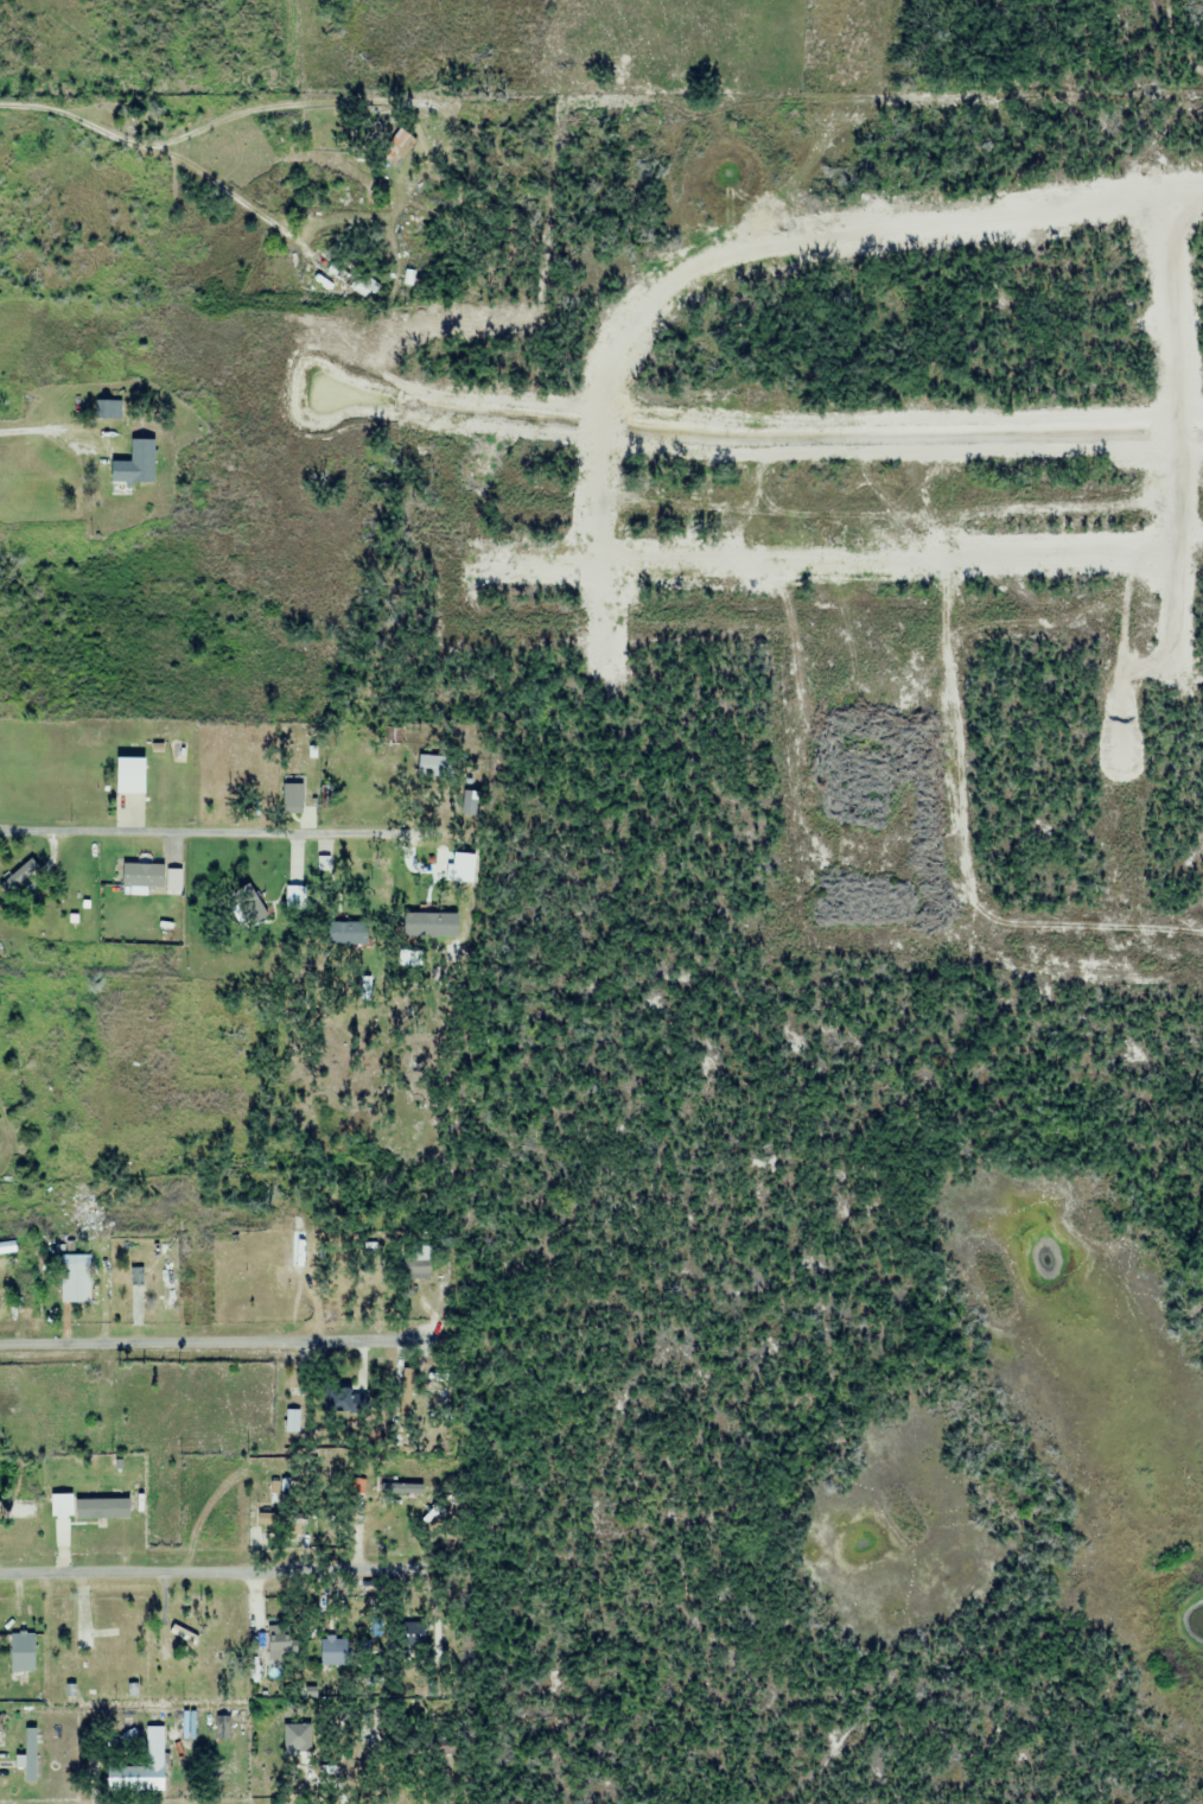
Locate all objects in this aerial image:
park: (127, 112)
building: (397, 147)
road: (171, 155)
road: (731, 246)
building: (342, 279)
road: (1169, 438)
building: (121, 478)
road: (822, 557)
building: (306, 739)
building: (434, 766)
road: (179, 832)
building: (139, 875)
building: (295, 897)
building: (254, 917)
building: (339, 933)
building: (456, 936)
building: (2, 1073)
building: (85, 1211)
building: (300, 1227)
building: (416, 1269)
building: (75, 1279)
building: (167, 1284)
road: (184, 1342)
building: (339, 1400)
building: (402, 1489)
building: (19, 1510)
road: (125, 1571)
building: (280, 1644)
building: (21, 1652)
building: (333, 1652)
building: (1, 1724)
building: (368, 1736)
building: (299, 1742)
building: (30, 1754)
building: (140, 1767)

